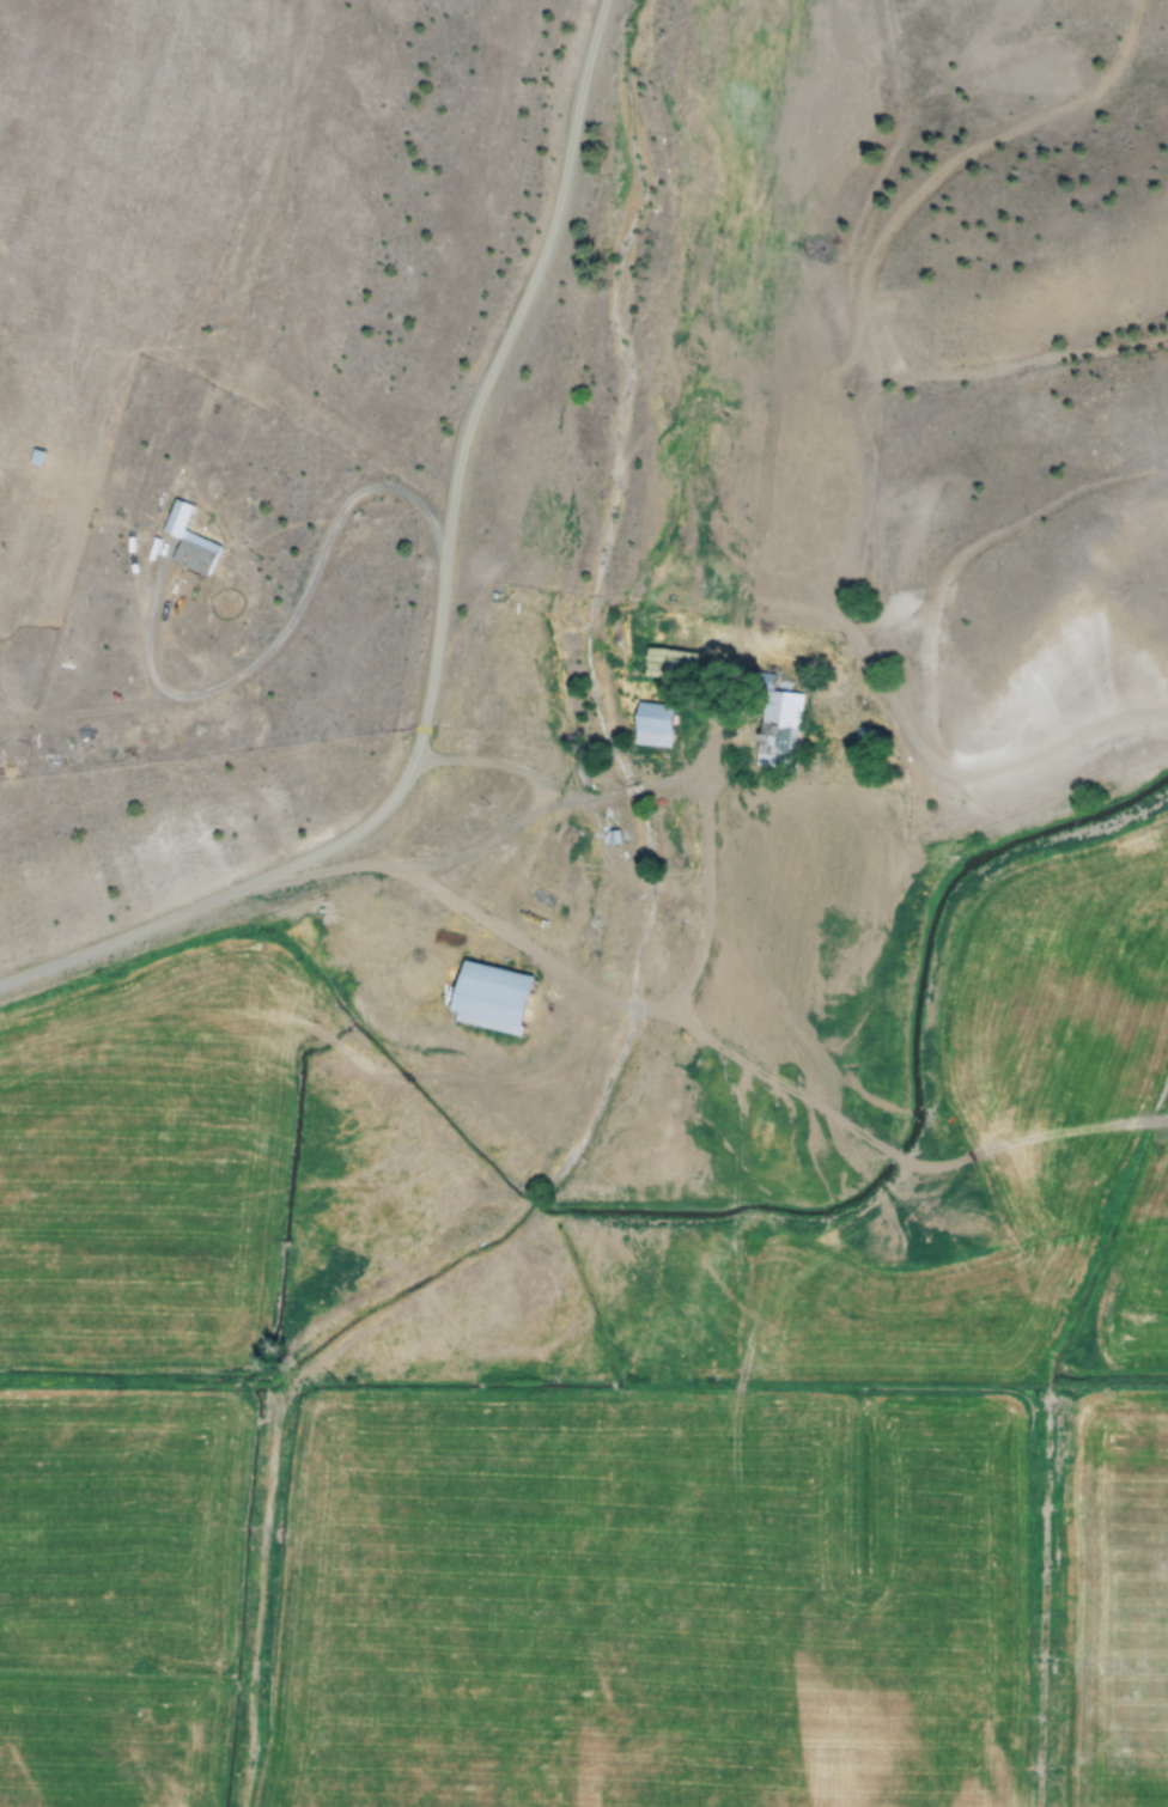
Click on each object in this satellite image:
building: (180, 547)
road: (438, 607)
building: (647, 728)
building: (774, 731)
building: (553, 858)
building: (487, 1002)

